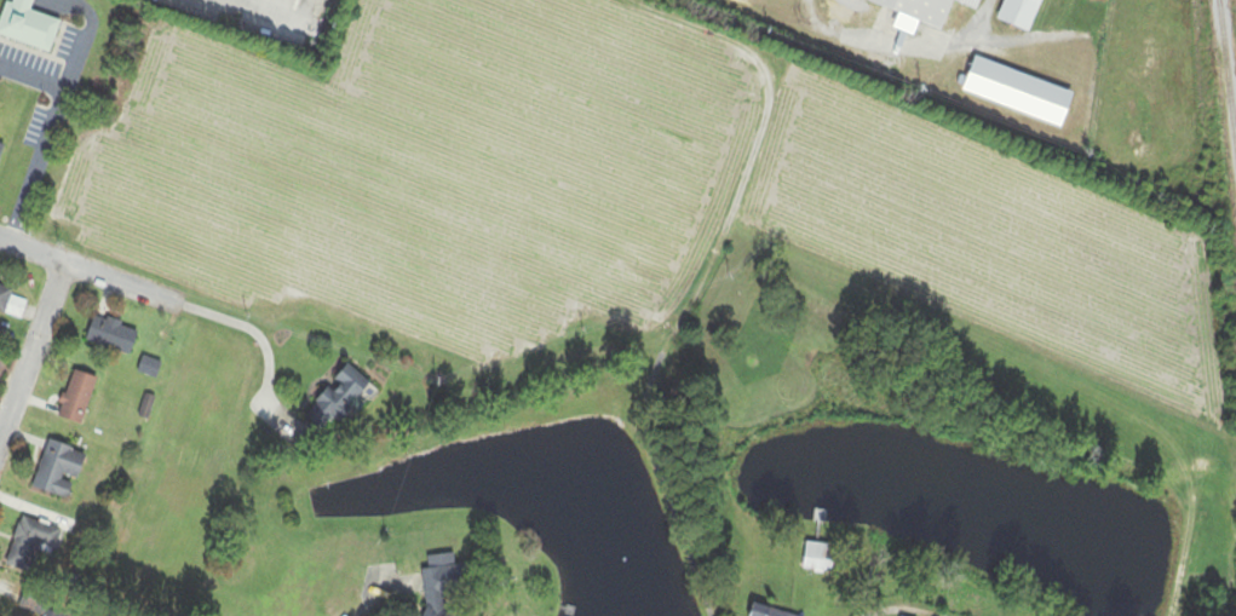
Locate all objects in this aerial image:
building: (964, 2)
building: (914, 10)
building: (1013, 12)
road: (275, 16)
building: (28, 25)
railway: (1200, 46)
railway: (1226, 74)
building: (1012, 91)
building: (1, 149)
road: (128, 287)
building: (5, 297)
building: (113, 336)
road: (33, 356)
building: (77, 398)
building: (339, 401)
building: (58, 471)
building: (30, 545)
building: (820, 558)
building: (441, 587)
building: (47, 608)
road: (890, 610)
building: (766, 611)

